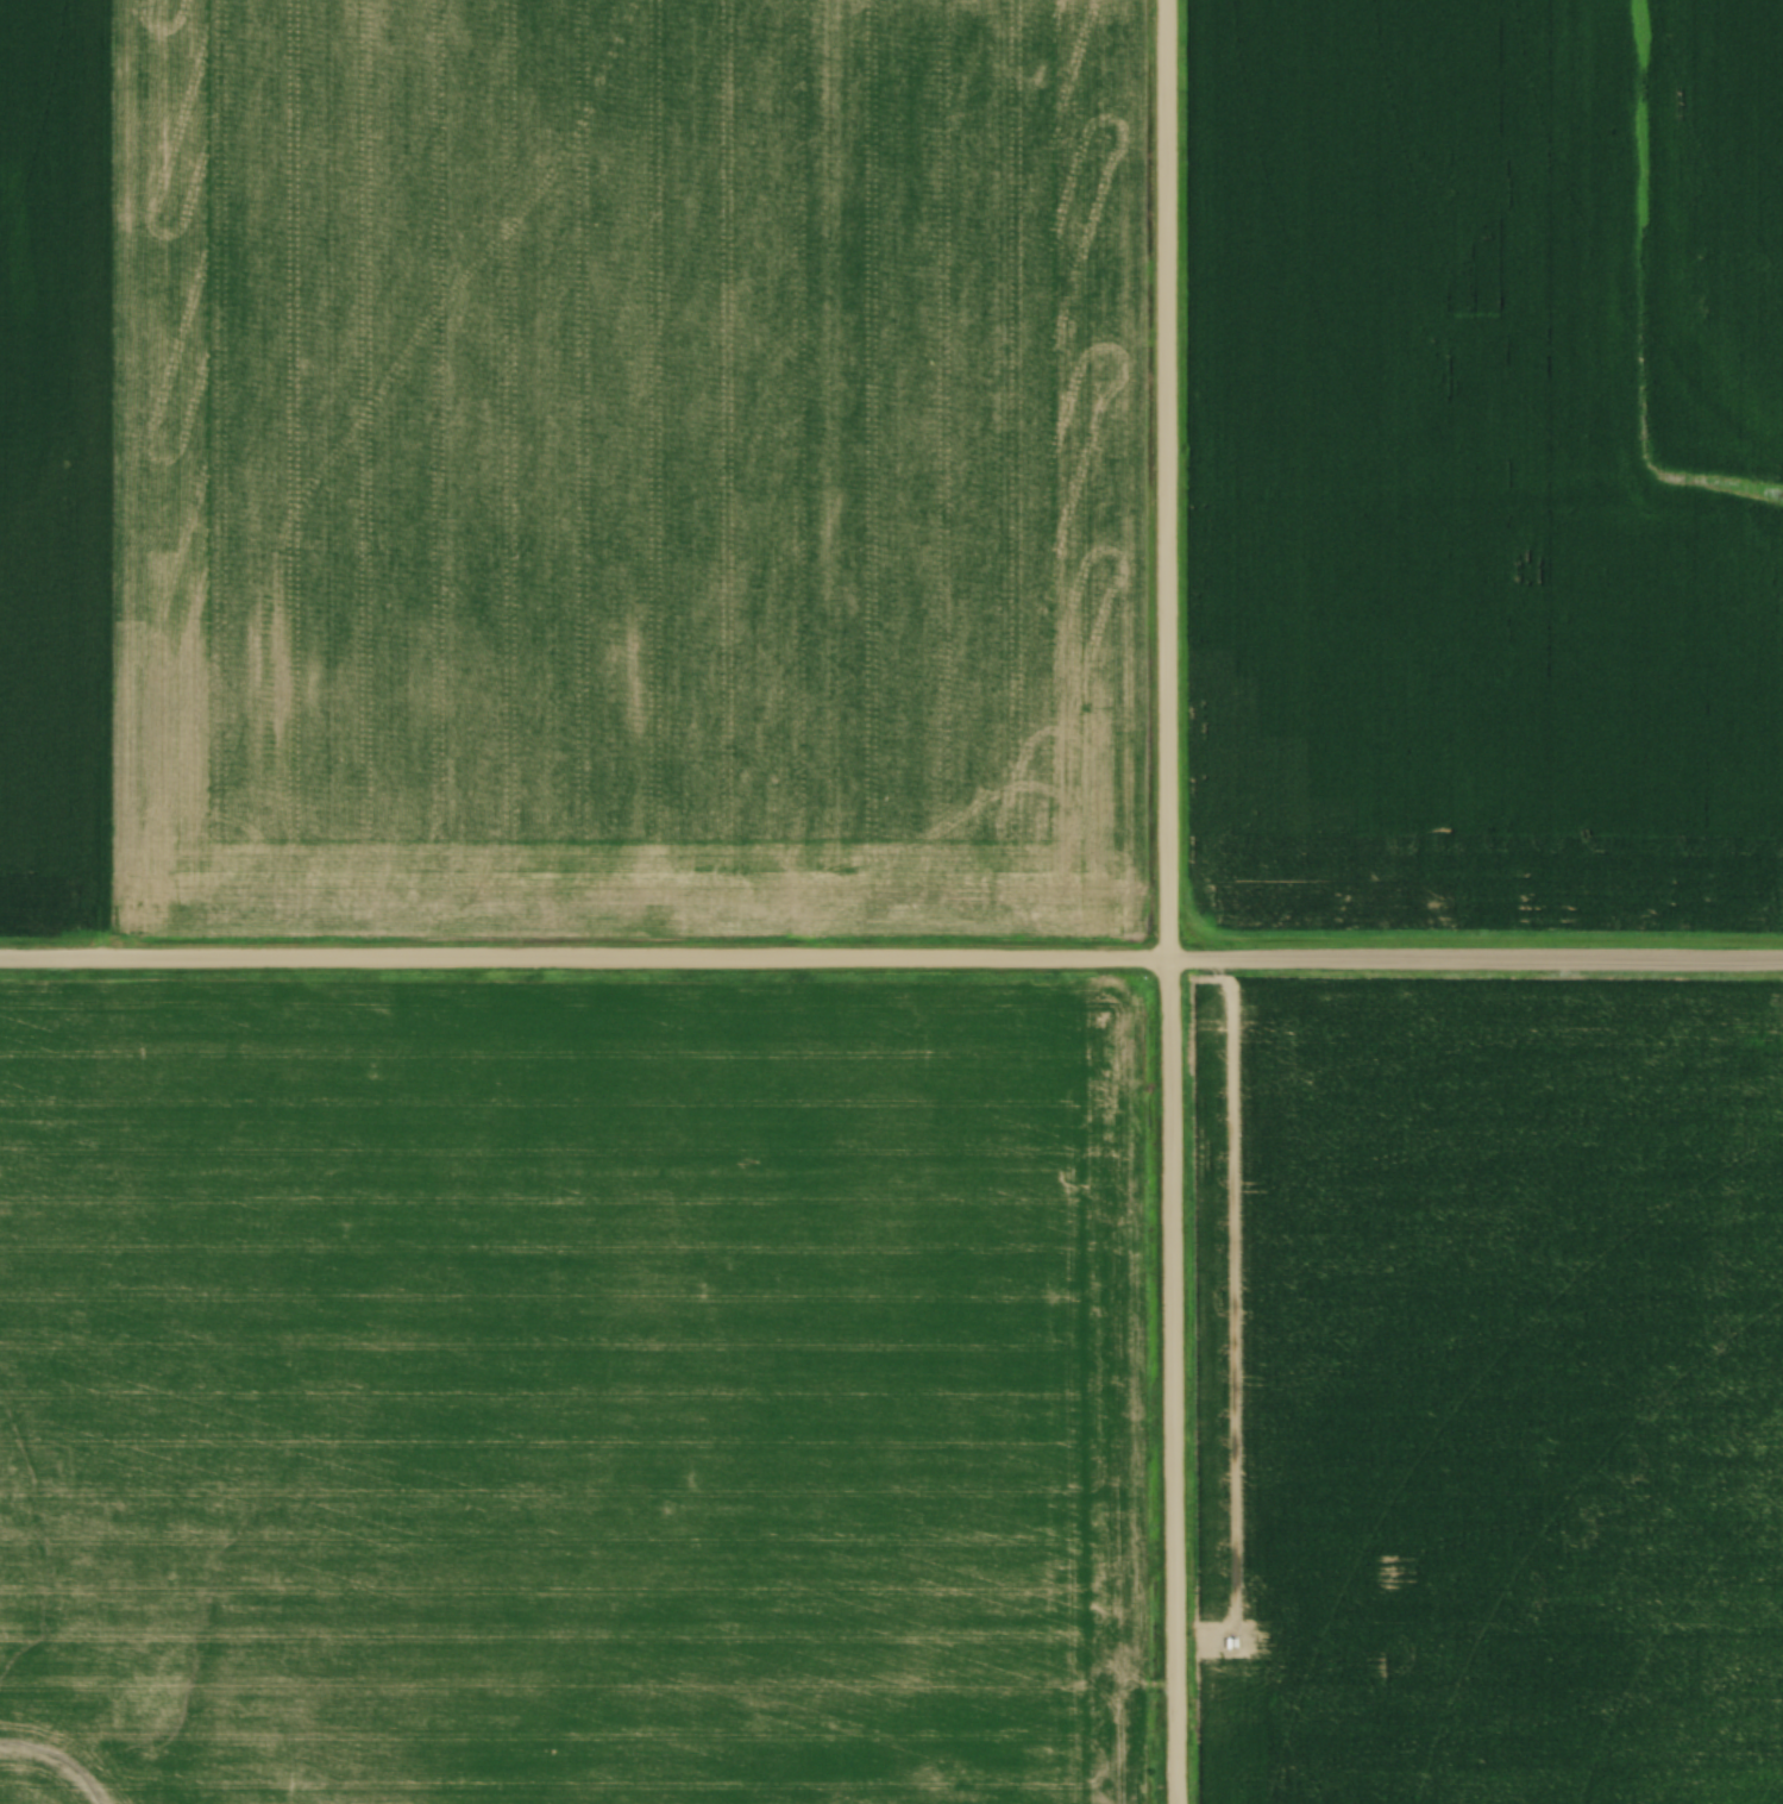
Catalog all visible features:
road: (1164, 902)
road: (891, 961)

